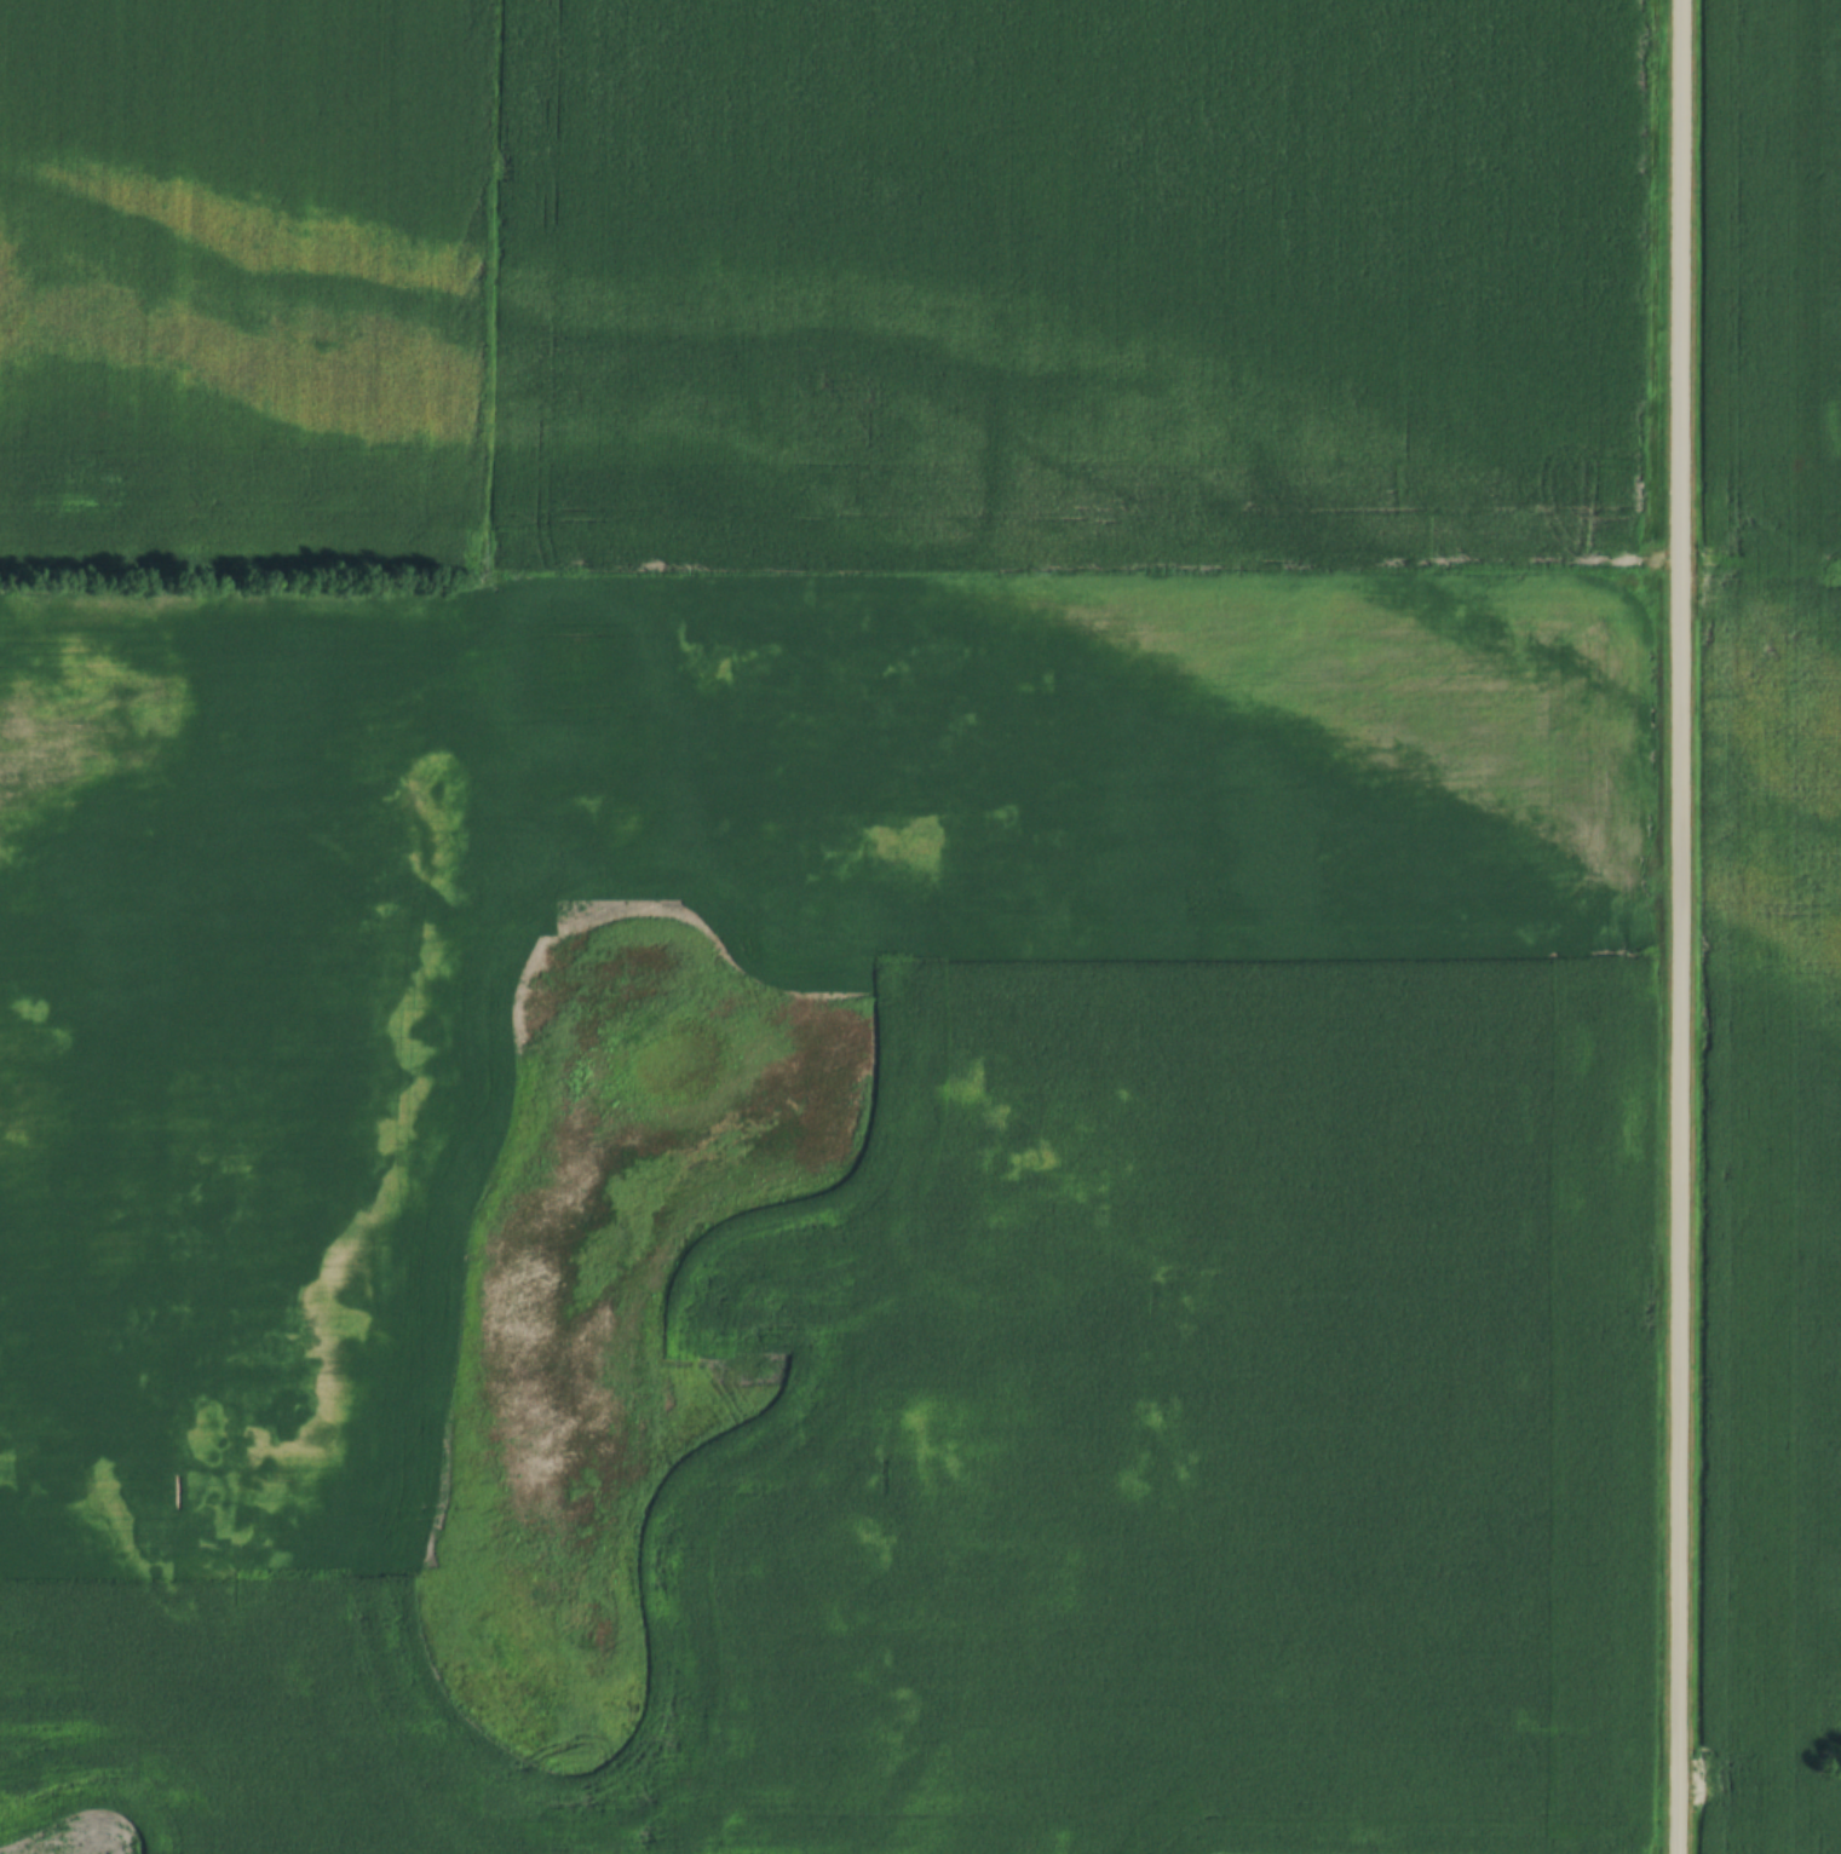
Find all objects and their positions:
road: (1673, 926)

